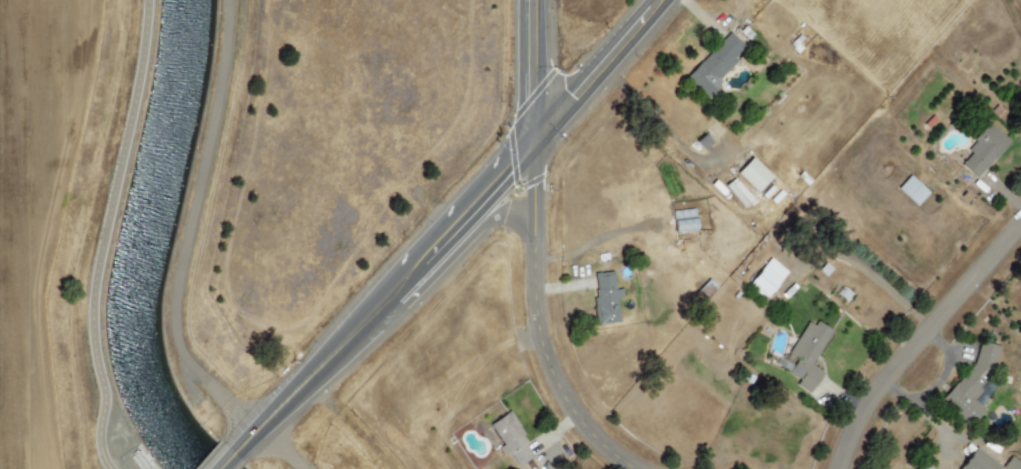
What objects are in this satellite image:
building: (714, 67)
road: (539, 69)
road: (599, 69)
traffic signals: (539, 139)
building: (983, 150)
crop: (327, 152)
road: (541, 155)
building: (753, 175)
building: (912, 190)
building: (684, 221)
road: (109, 234)
road: (447, 234)
road: (180, 262)
building: (766, 278)
building: (706, 289)
building: (605, 298)
road: (546, 331)
road: (923, 347)
building: (806, 355)
road: (298, 389)
building: (511, 440)
road: (229, 458)
building: (979, 461)
building: (1011, 464)

